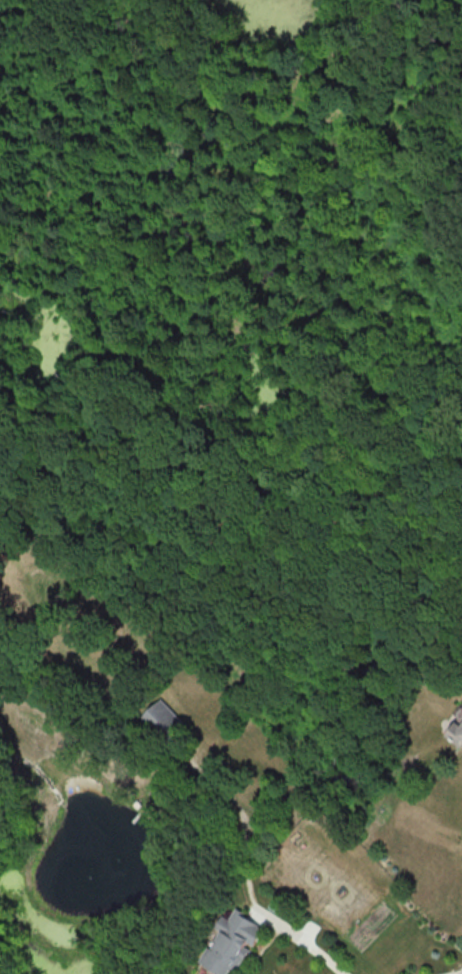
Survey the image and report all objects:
building: (164, 719)
building: (456, 732)
building: (232, 942)
road: (300, 943)

